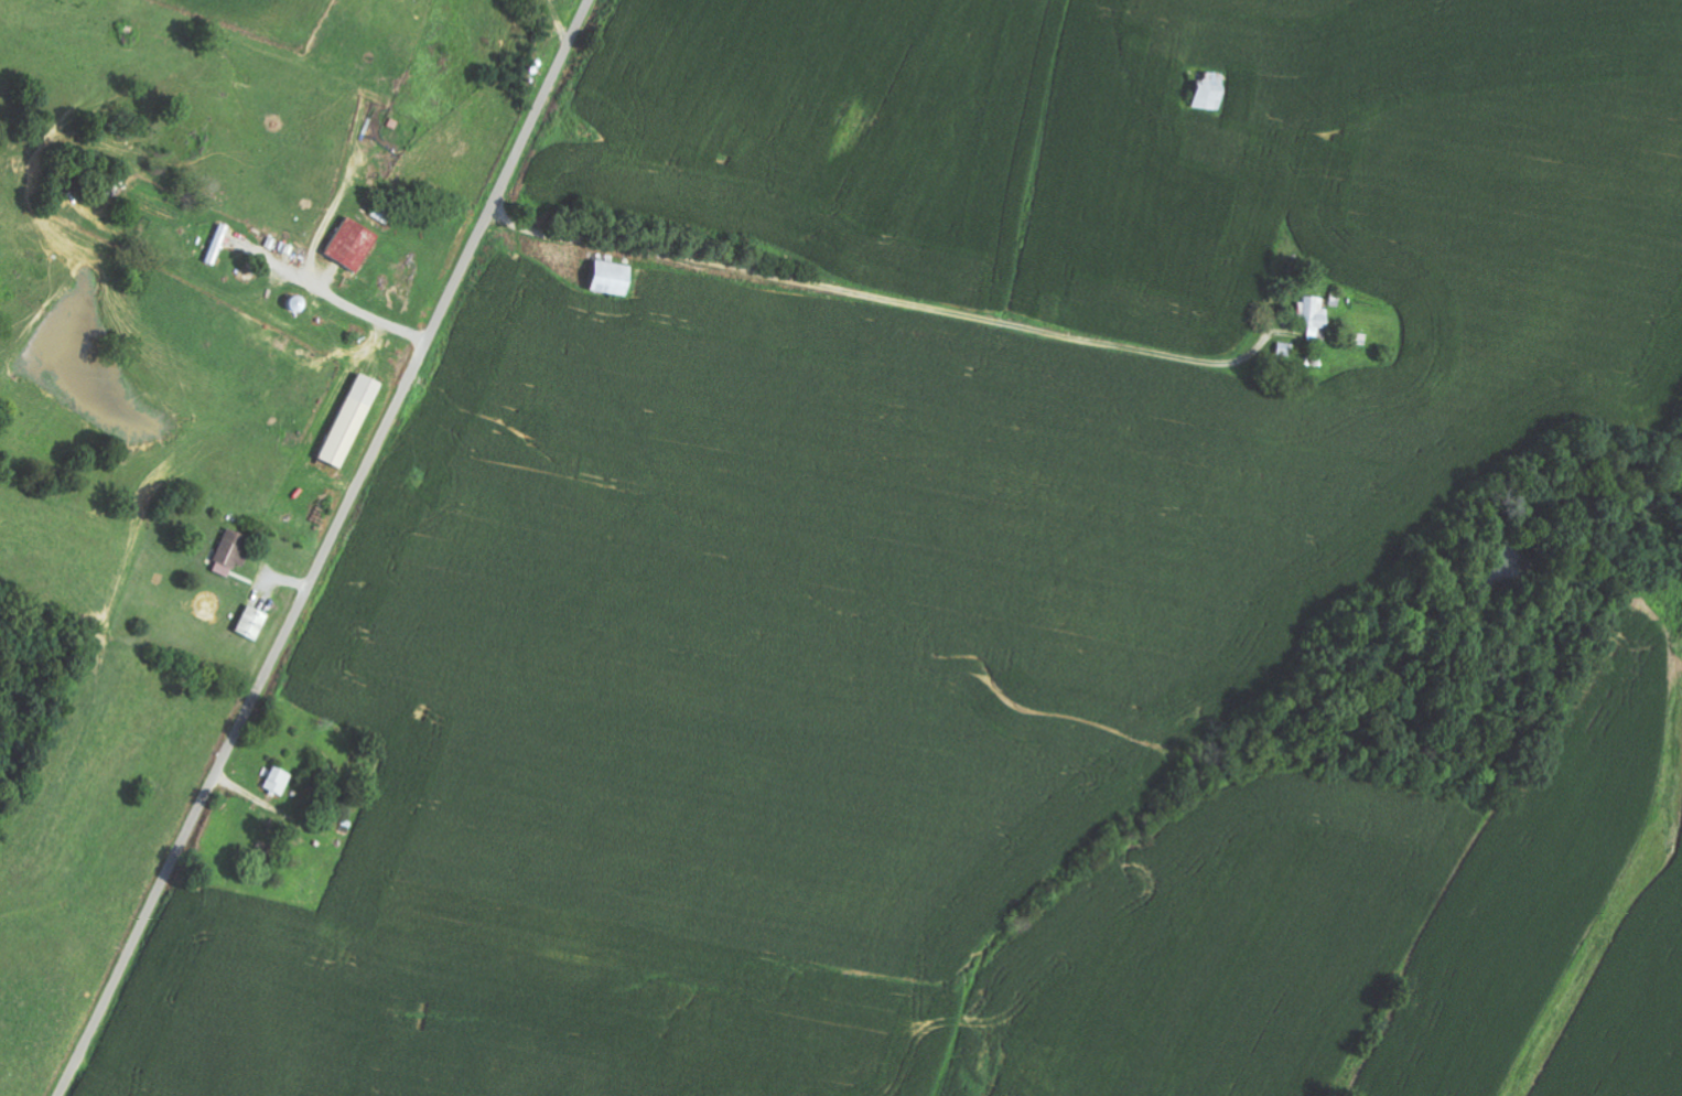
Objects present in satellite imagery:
building: (1211, 92)
road: (1029, 154)
building: (353, 245)
building: (612, 279)
building: (1315, 313)
building: (352, 422)
road: (327, 549)
building: (231, 555)
building: (254, 624)
building: (279, 782)

